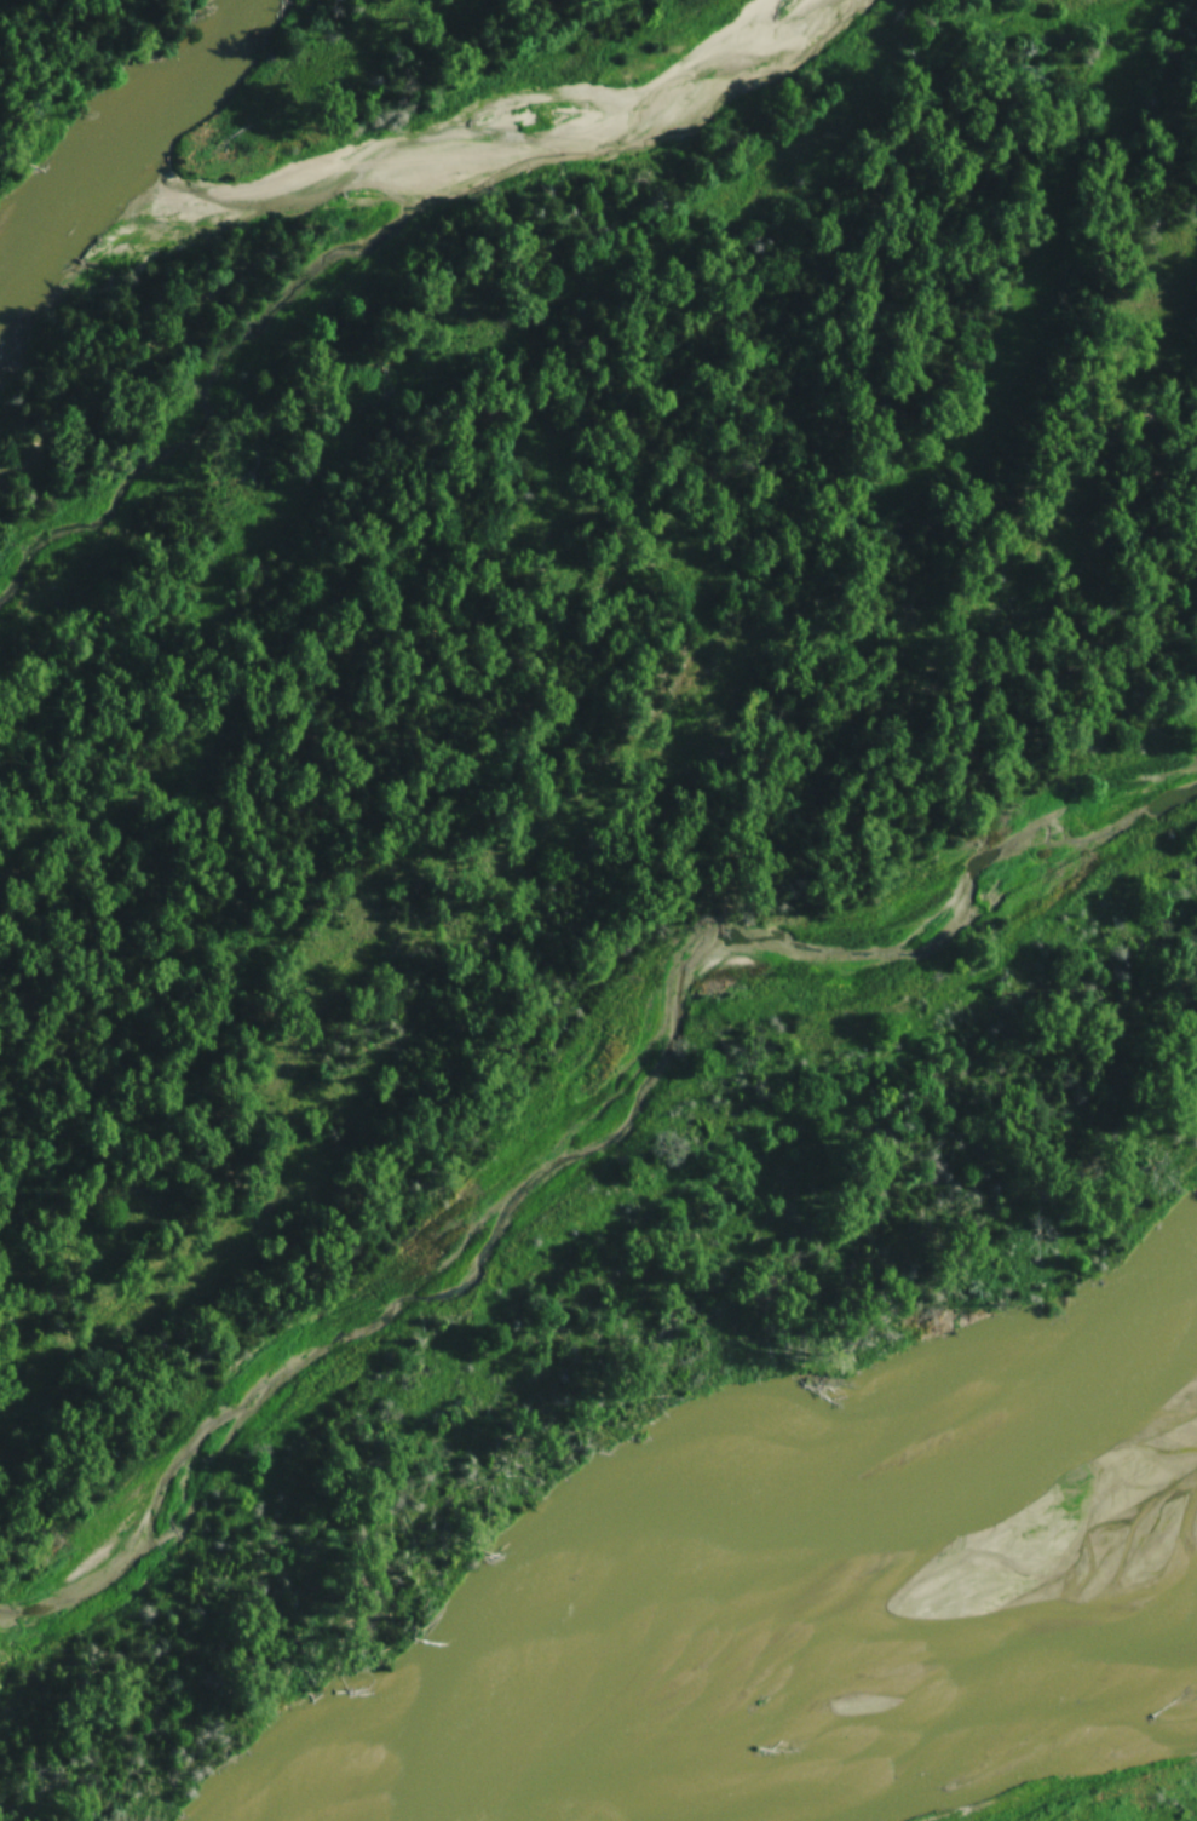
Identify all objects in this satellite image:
river: (754, 1596)

